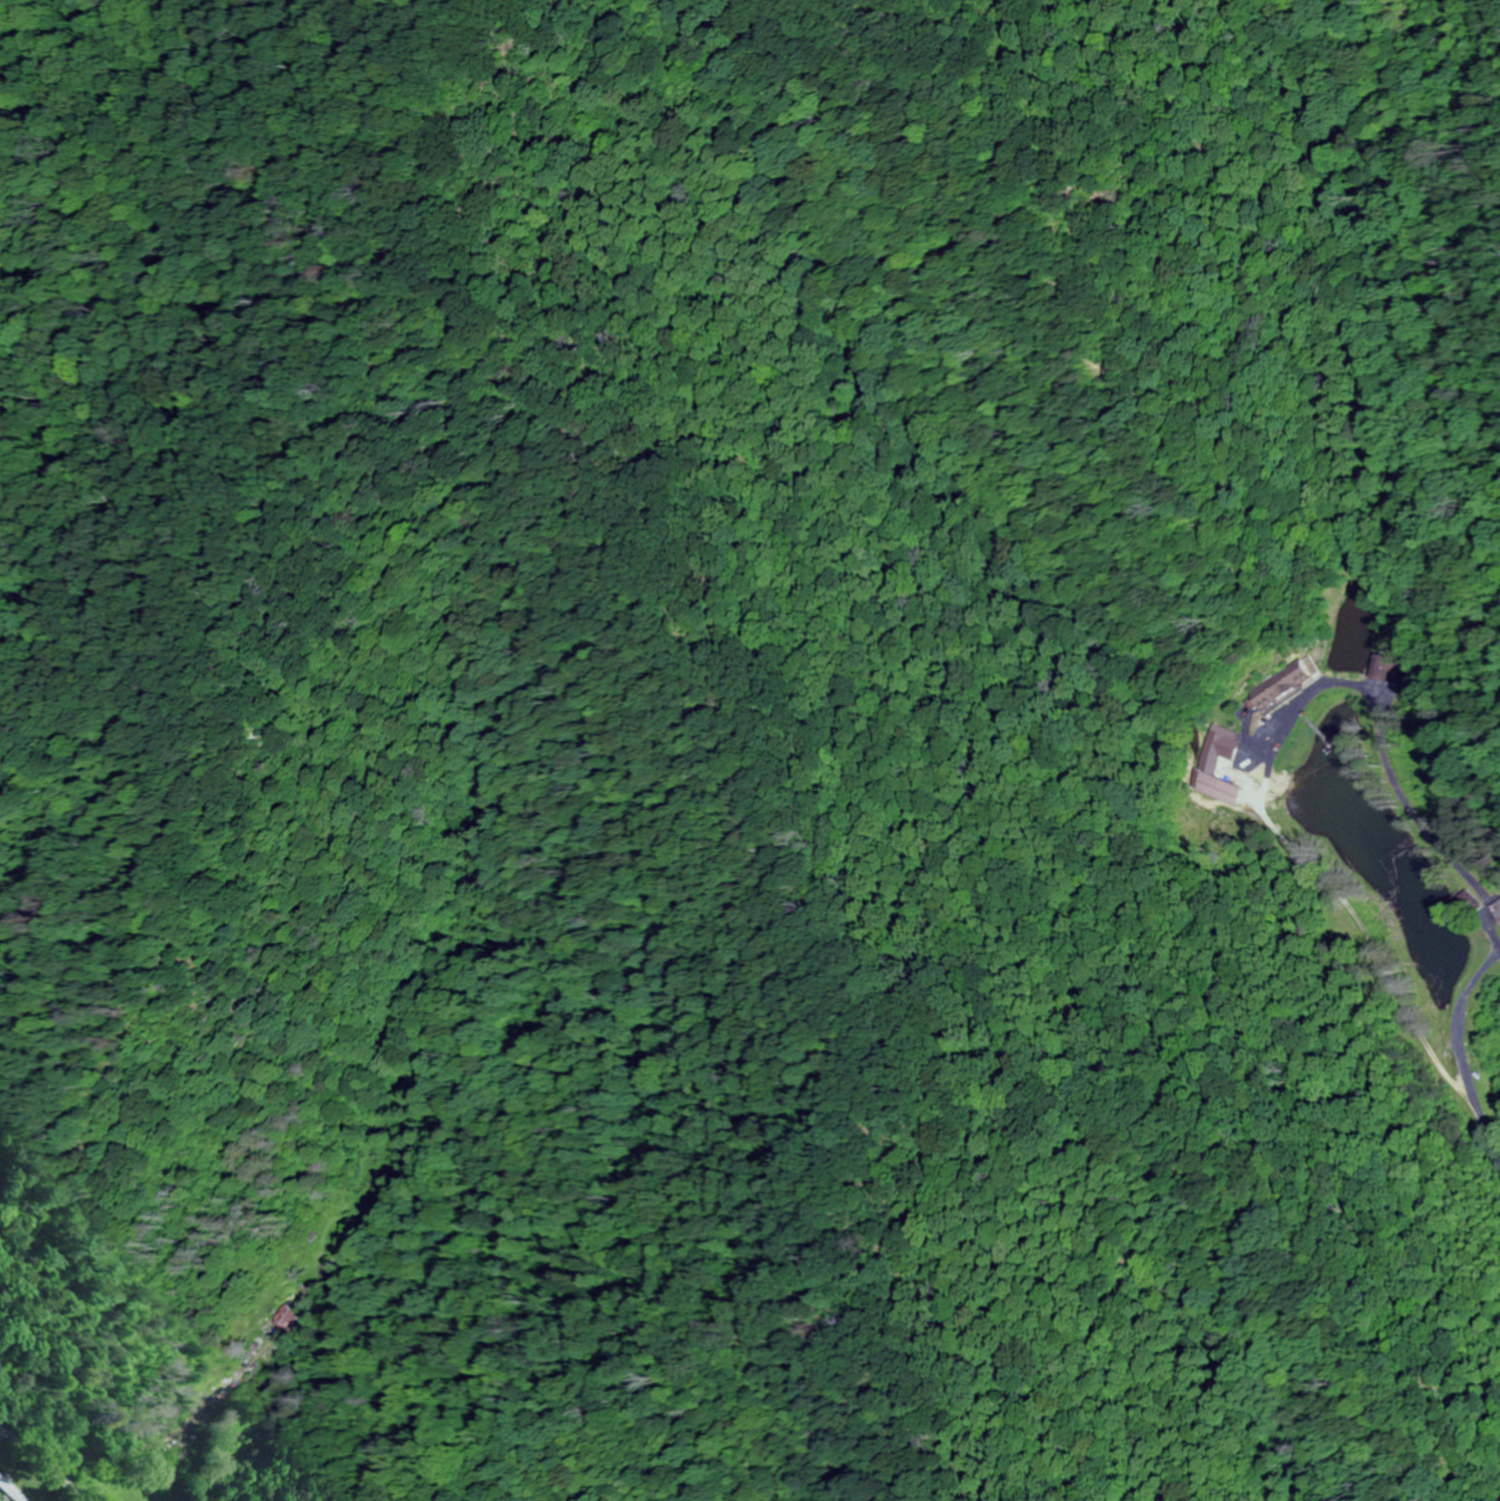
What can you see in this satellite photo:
building: (1388, 667)
building: (1207, 768)
building: (1498, 911)
road: (1488, 913)
road: (1087, 1115)
building: (288, 1318)
road: (42, 1460)
building: (10, 1490)

